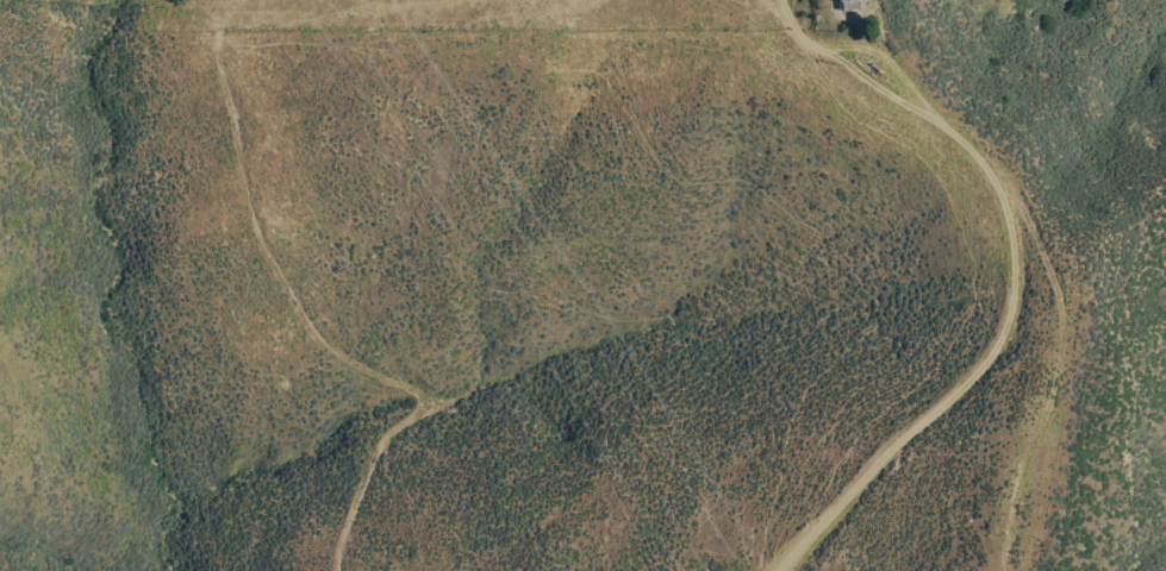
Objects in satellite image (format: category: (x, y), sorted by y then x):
building: (848, 4)
road: (1030, 272)

